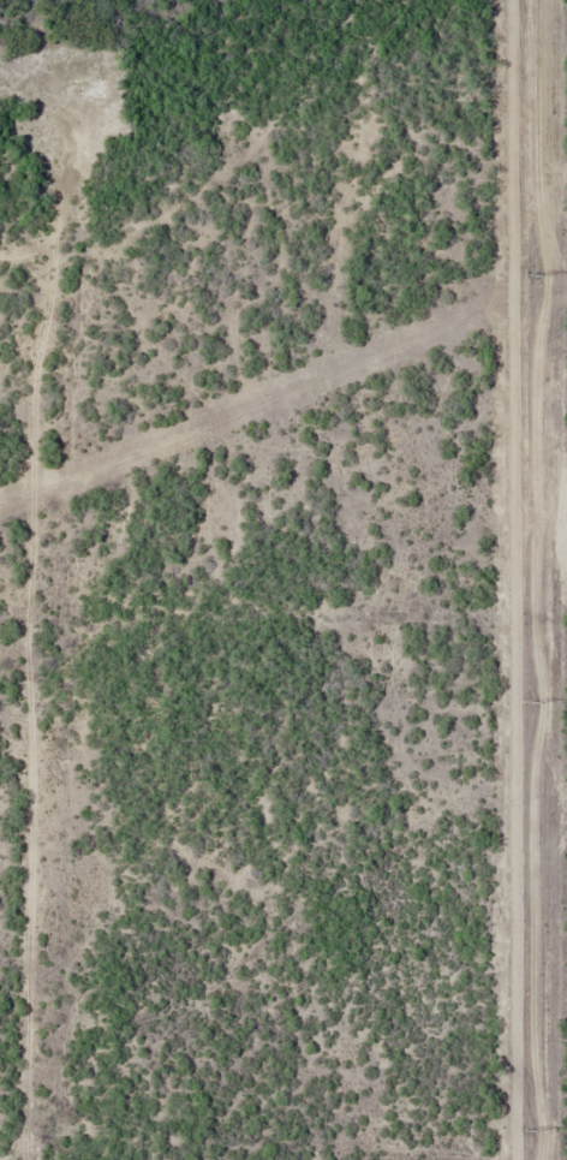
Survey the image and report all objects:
power tower: (531, 278)
power tower: (529, 704)
power tower: (525, 1132)

